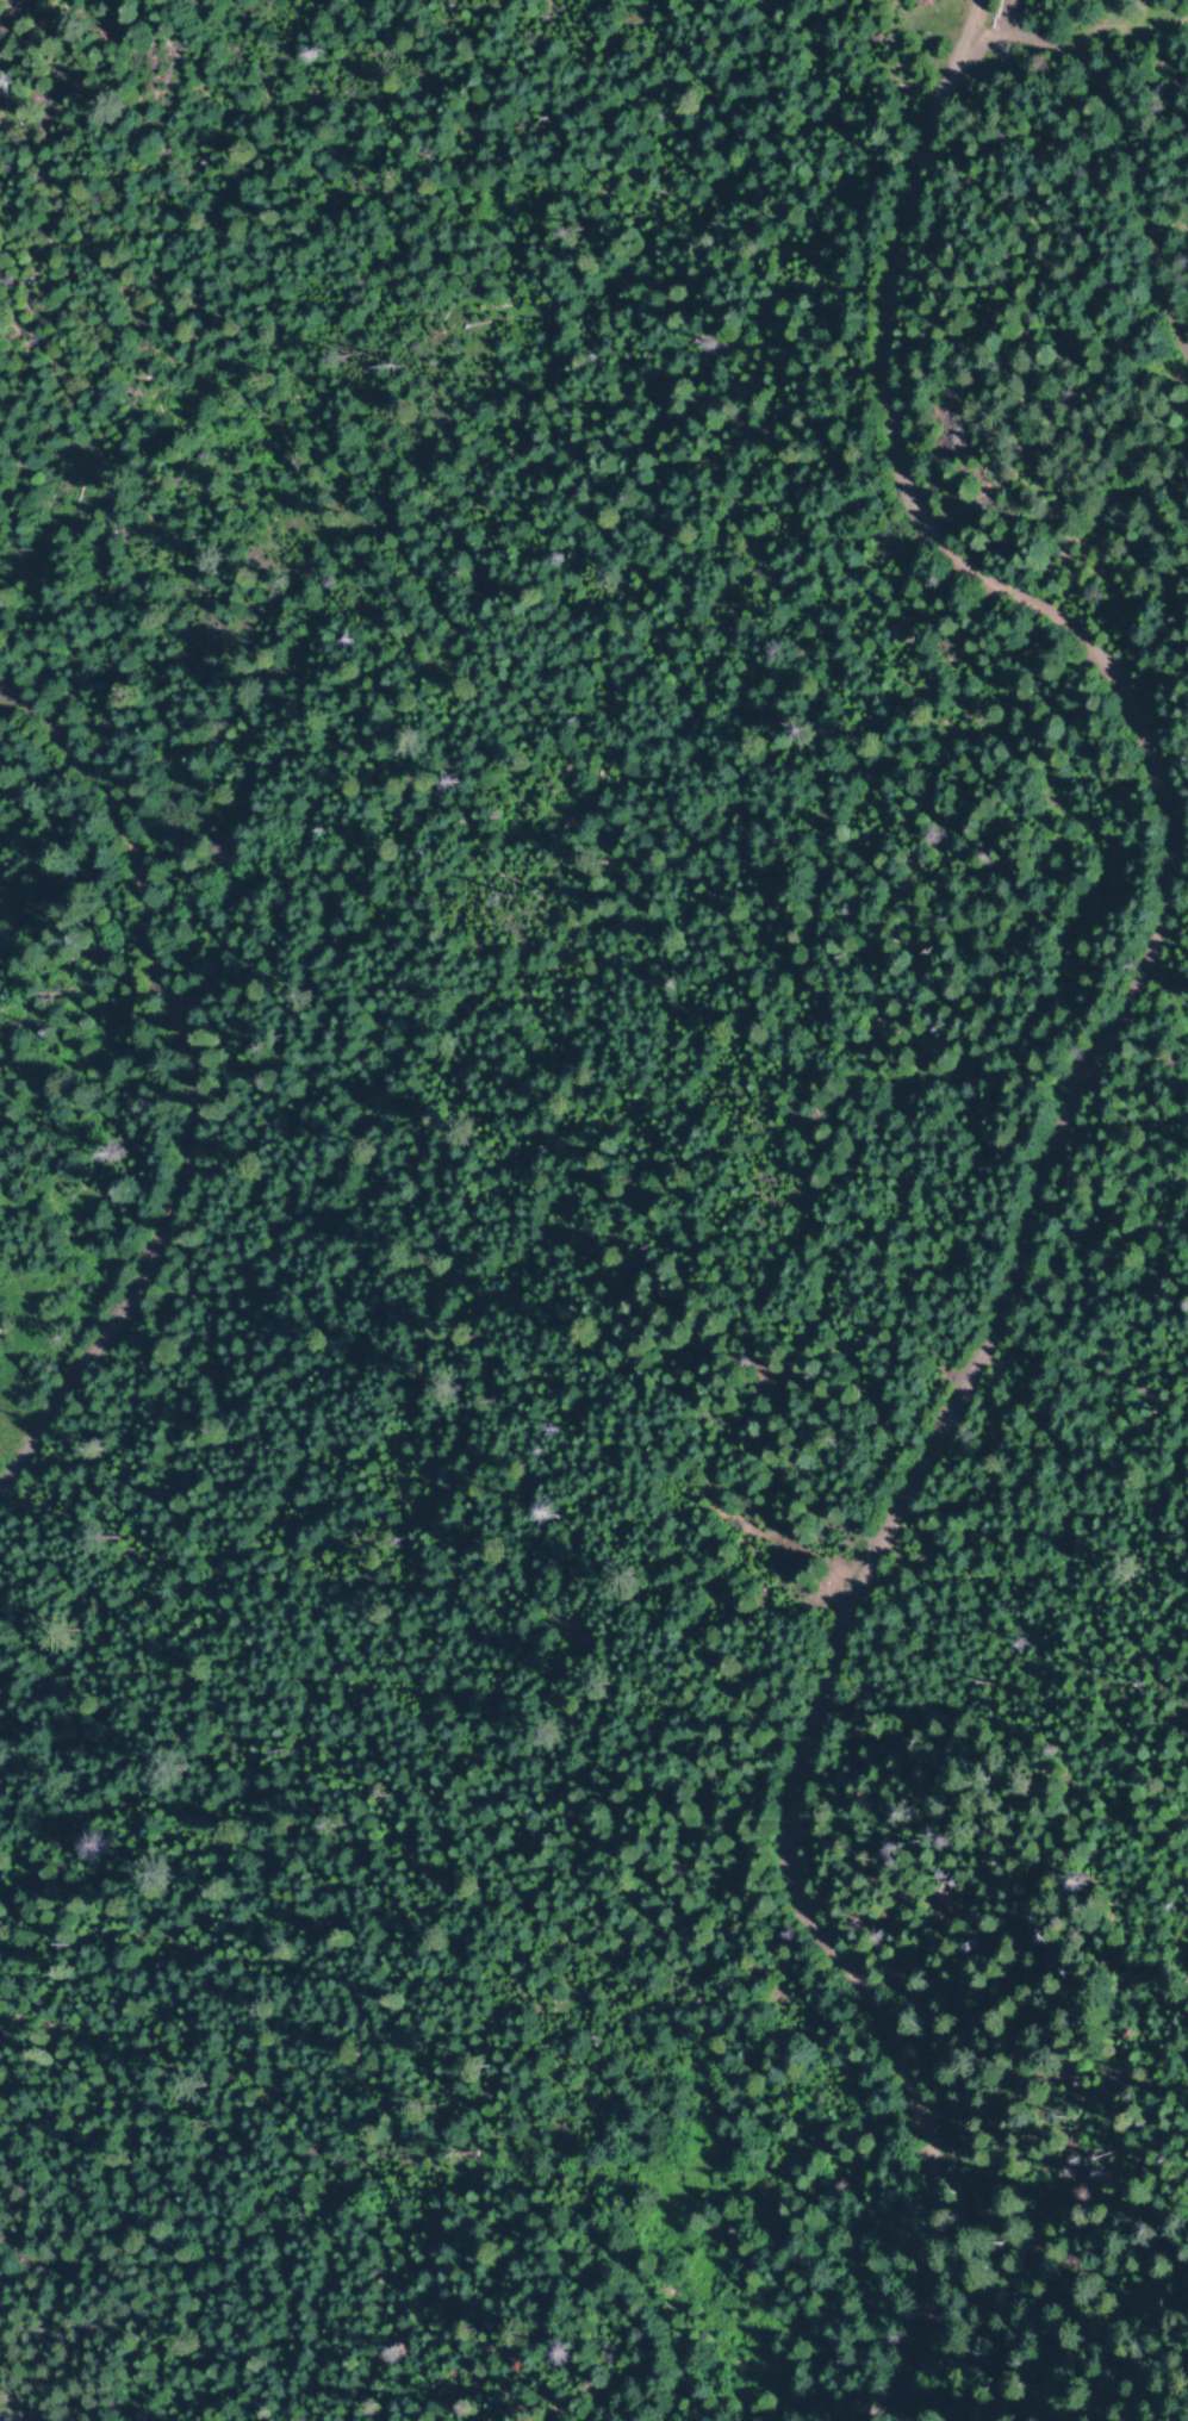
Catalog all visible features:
road: (997, 18)
road: (1127, 145)
road: (176, 1081)
road: (1038, 1193)
road: (1, 1471)

